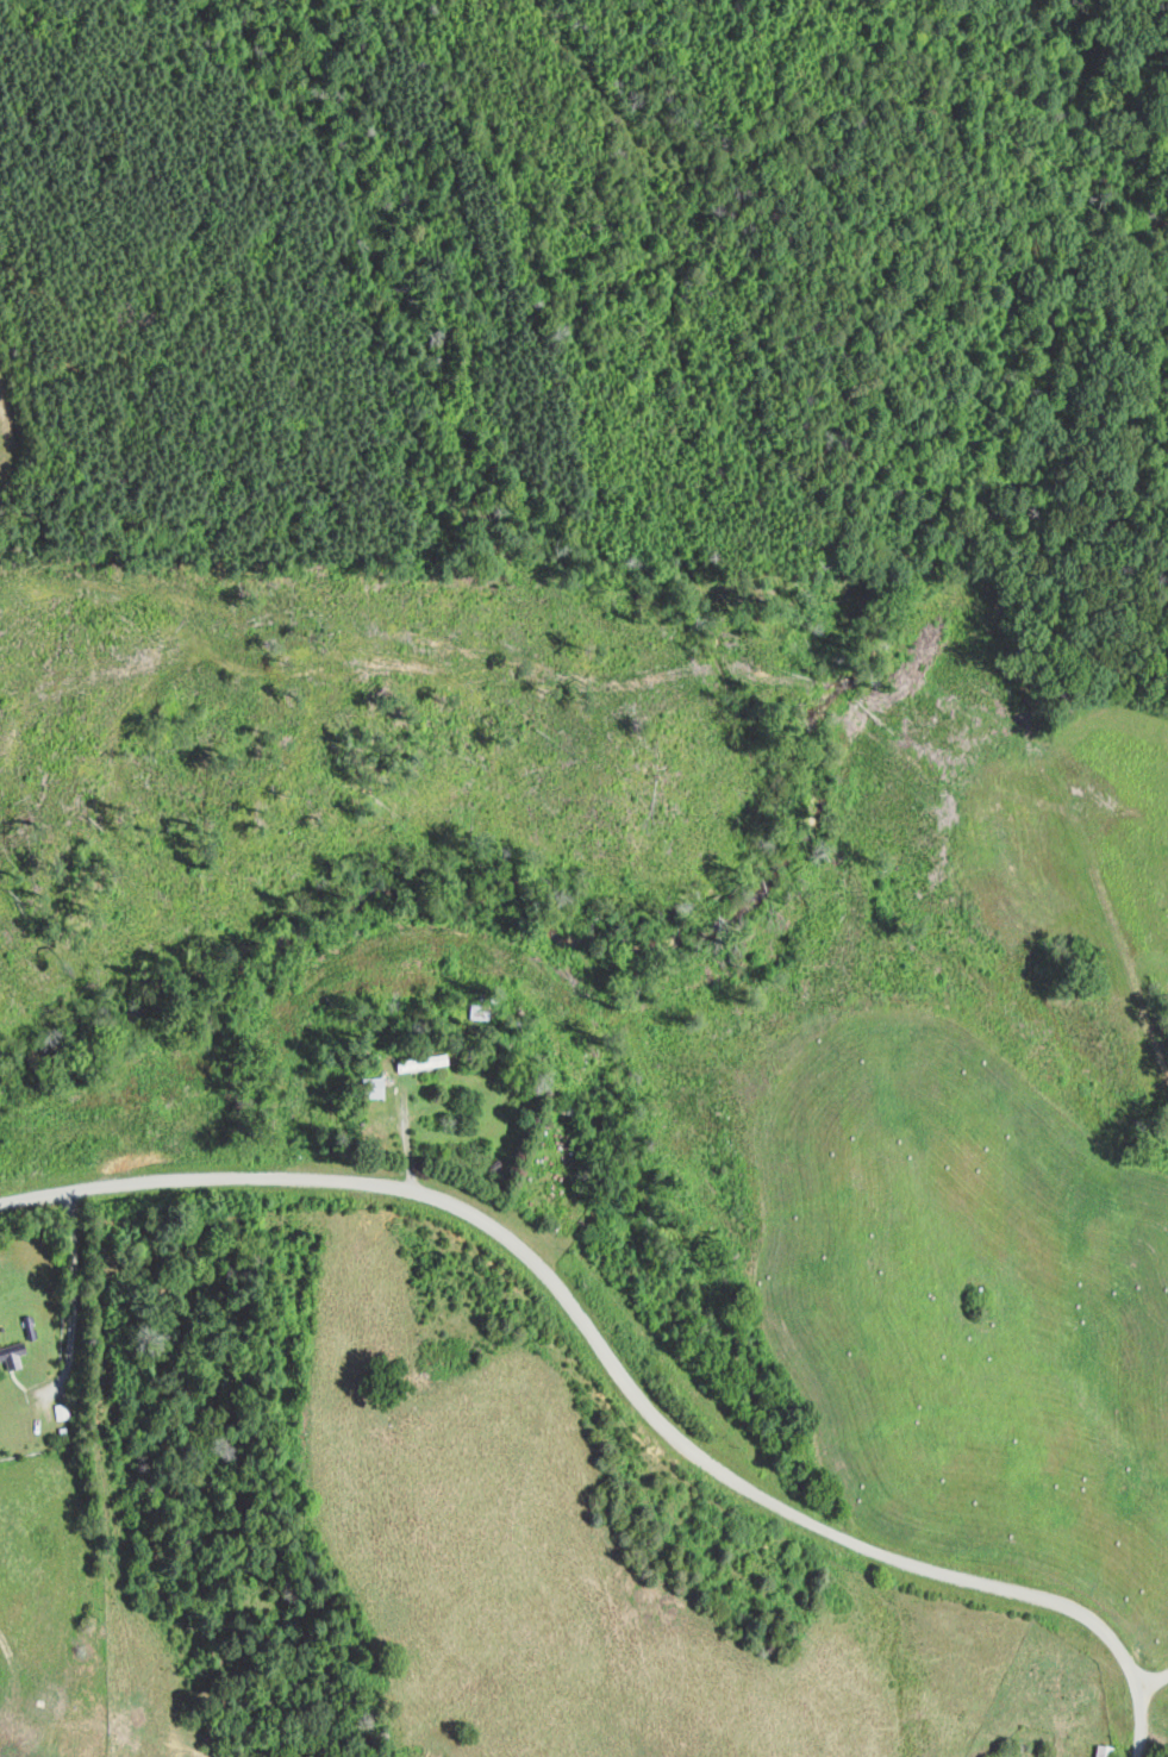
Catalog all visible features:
road: (74, 1286)
building: (12, 1353)
road: (619, 1373)
road: (1154, 1681)

